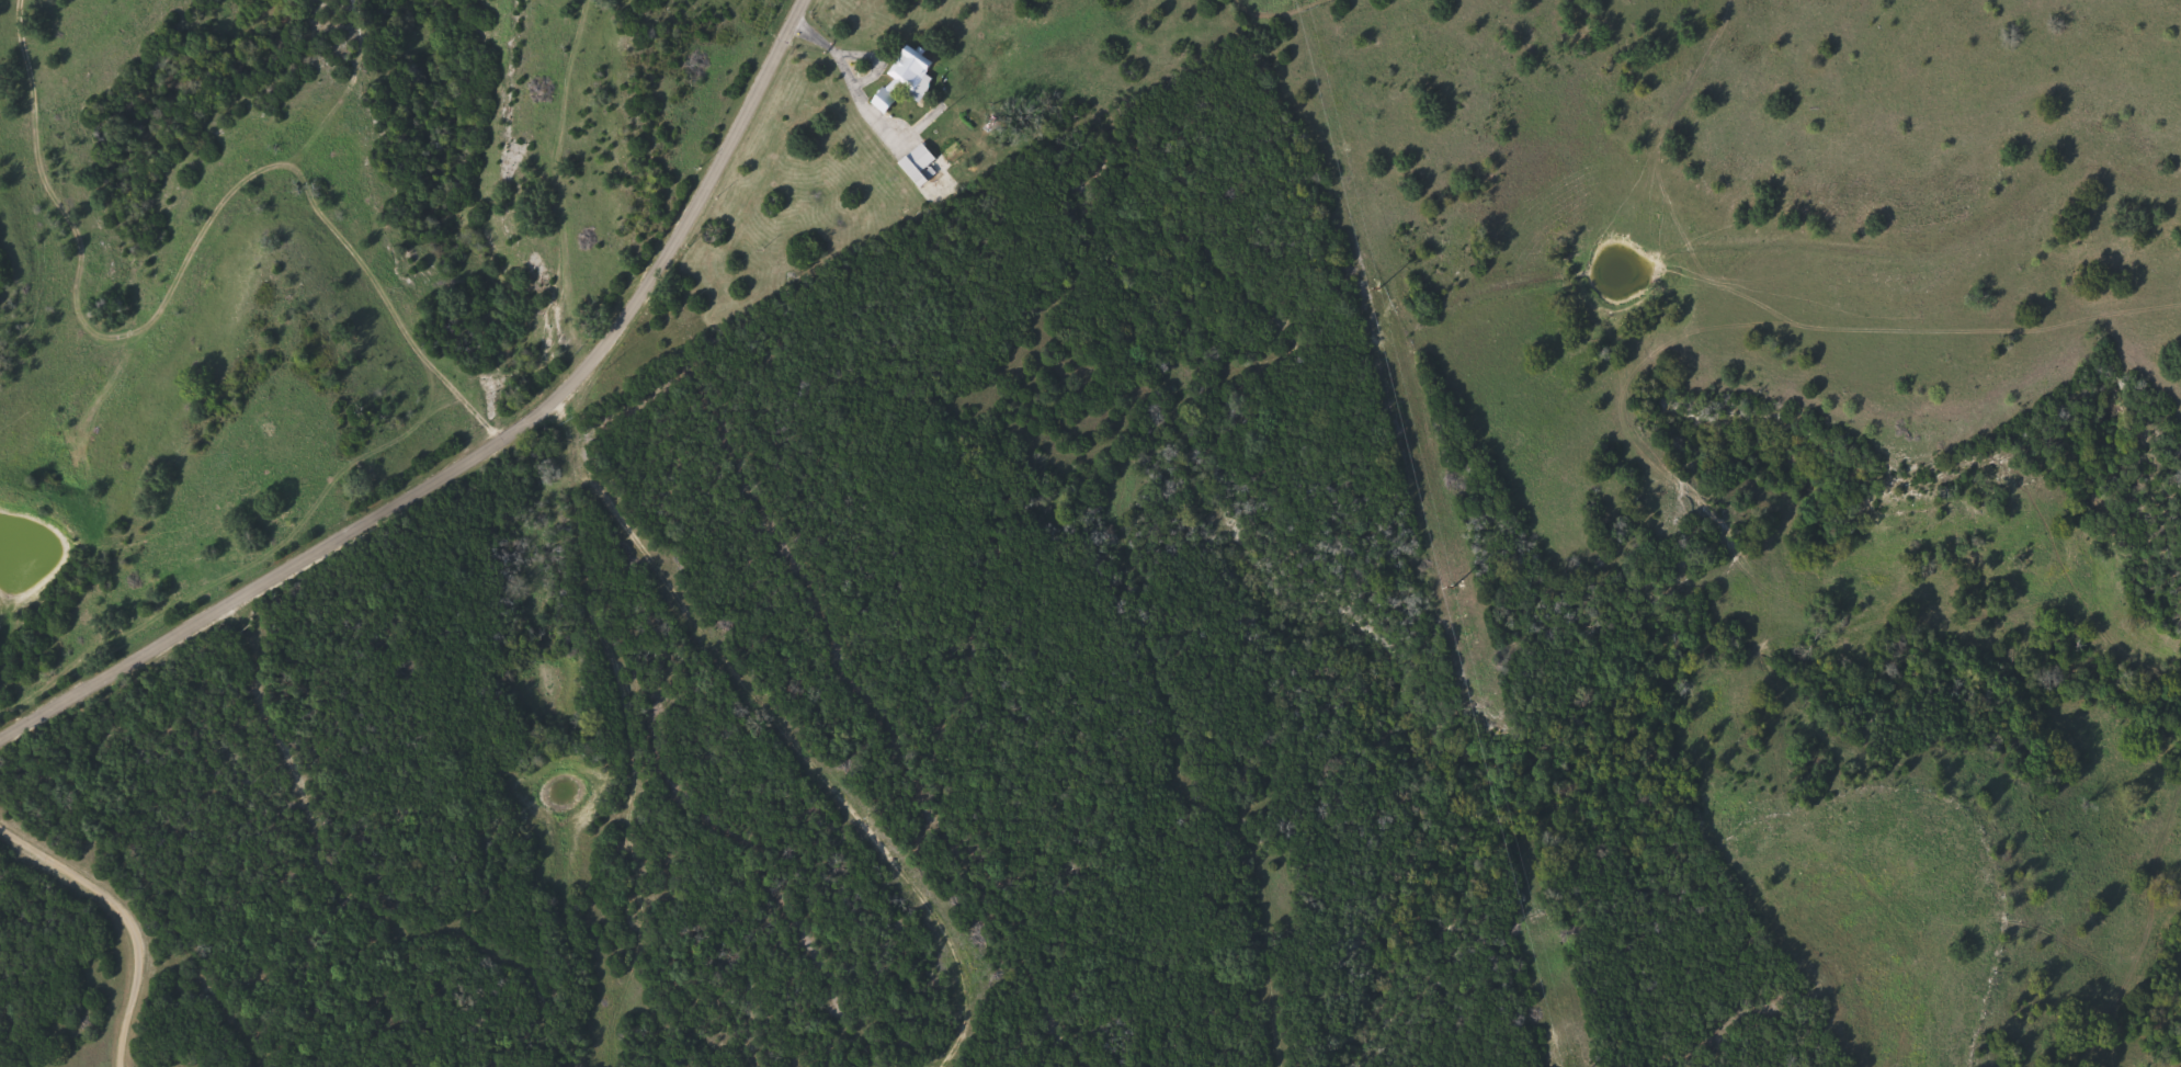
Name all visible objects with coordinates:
building: (904, 83)
building: (920, 164)
road: (485, 451)
road: (1287, 532)
road: (1091, 560)
road: (123, 919)

